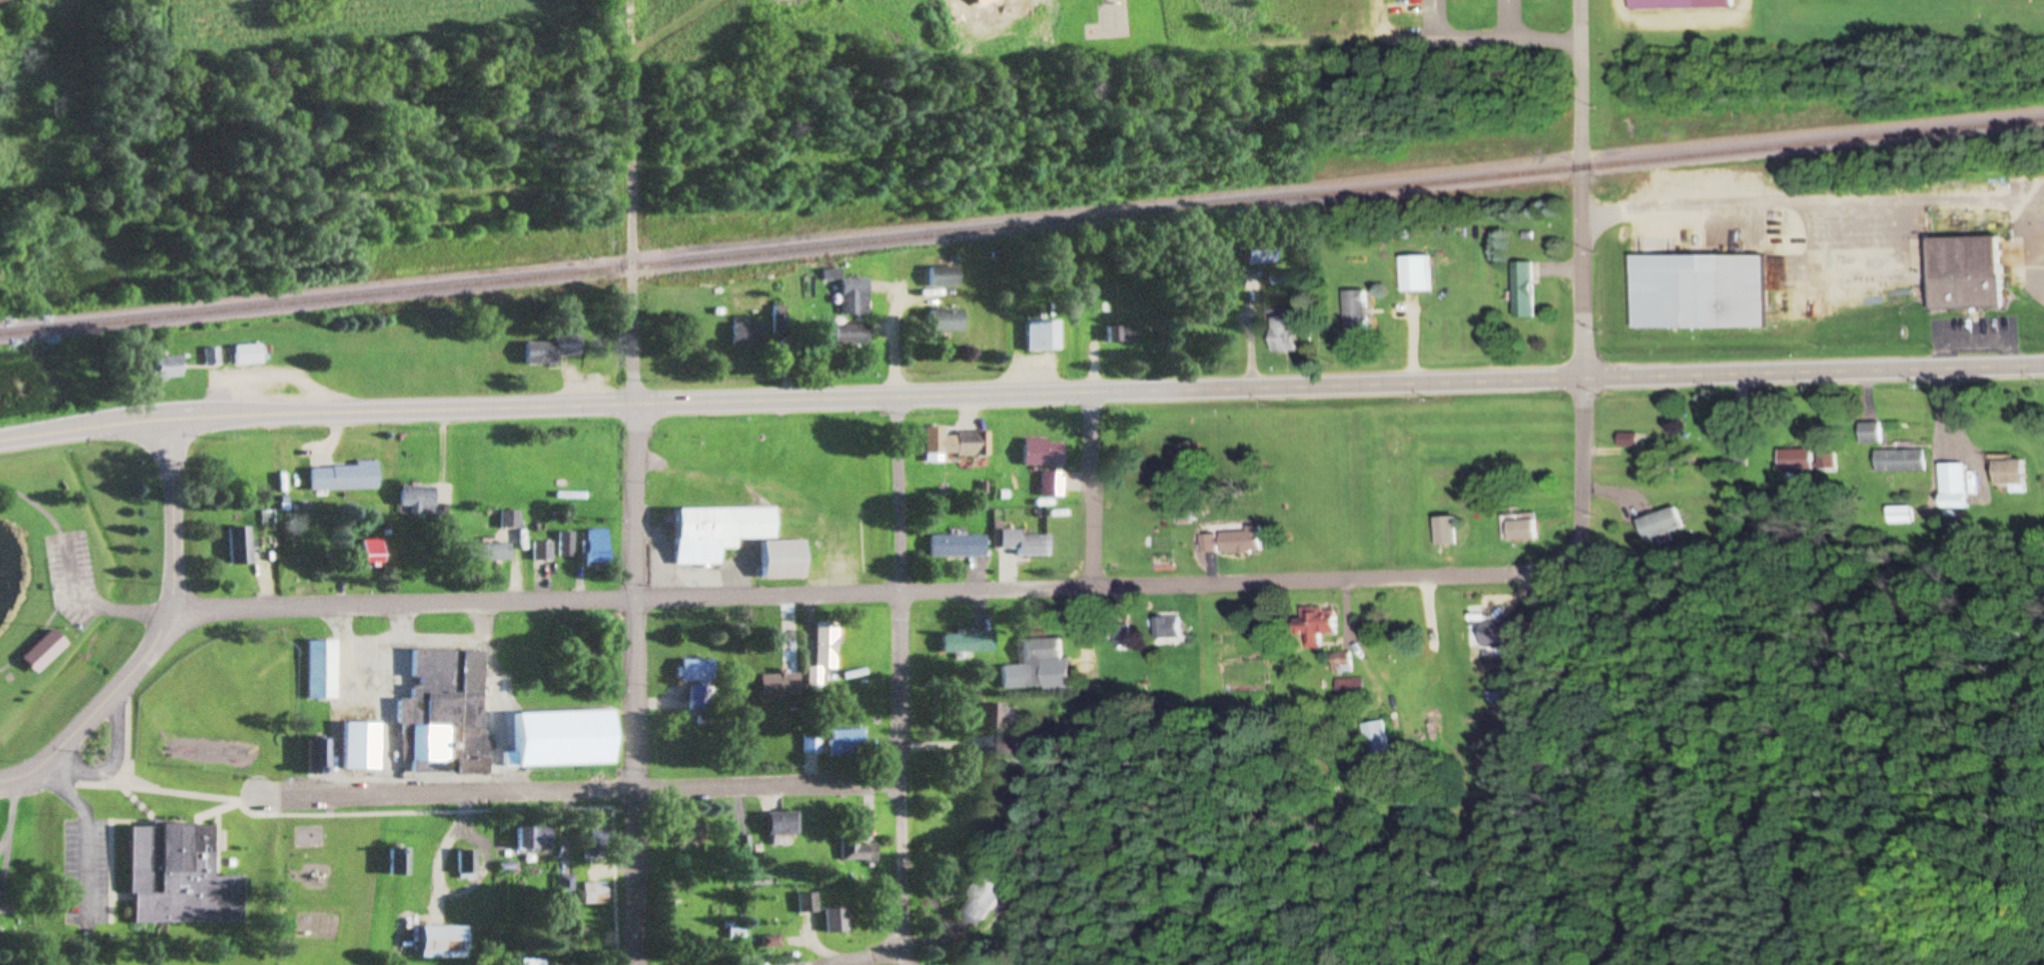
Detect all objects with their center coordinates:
building: (982, 1)
building: (1675, 4)
road: (1437, 17)
road: (1508, 17)
road: (1472, 35)
road: (1580, 189)
road: (1798, 206)
railway: (1021, 226)
building: (1262, 252)
building: (1959, 272)
building: (1414, 273)
building: (944, 276)
building: (1523, 288)
building: (1693, 290)
building: (855, 296)
building: (1354, 302)
building: (946, 320)
building: (780, 321)
building: (1282, 332)
building: (1123, 333)
building: (748, 334)
building: (845, 335)
building: (1043, 336)
road: (894, 342)
building: (554, 349)
building: (249, 354)
building: (214, 356)
building: (169, 367)
road: (1021, 394)
building: (1872, 433)
building: (1630, 440)
building: (957, 443)
building: (1045, 453)
building: (1796, 459)
building: (1901, 461)
road: (1579, 471)
building: (2012, 474)
building: (345, 477)
road: (636, 482)
building: (1053, 484)
building: (1954, 486)
road: (1092, 490)
building: (420, 500)
building: (1184, 515)
building: (1898, 515)
building: (511, 519)
building: (1666, 524)
building: (1526, 530)
building: (1449, 531)
building: (718, 532)
building: (1242, 541)
building: (567, 544)
building: (1209, 544)
building: (240, 545)
building: (959, 546)
building: (598, 548)
building: (544, 551)
building: (490, 552)
building: (374, 553)
building: (784, 560)
park: (73, 578)
road: (868, 593)
road: (100, 608)
building: (1316, 625)
road: (161, 626)
building: (1166, 628)
building: (1509, 633)
road: (39, 634)
building: (968, 643)
building: (826, 647)
building: (46, 651)
building: (1041, 659)
building: (323, 670)
building: (698, 670)
road: (903, 672)
building: (779, 685)
building: (446, 713)
building: (994, 717)
building: (1377, 737)
building: (565, 739)
building: (812, 743)
building: (849, 743)
building: (1009, 745)
building: (363, 747)
building: (321, 756)
road: (115, 763)
road: (11, 778)
road: (580, 789)
building: (782, 827)
building: (693, 833)
road: (89, 834)
building: (536, 838)
building: (598, 845)
building: (745, 845)
building: (859, 850)
building: (402, 862)
building: (470, 862)
building: (182, 877)
building: (568, 885)
building: (598, 894)
building: (983, 902)
building: (8, 903)
building: (808, 903)
building: (837, 919)
building: (446, 942)
road: (869, 955)
road: (911, 956)
building: (533, 962)
park: (476, 963)

